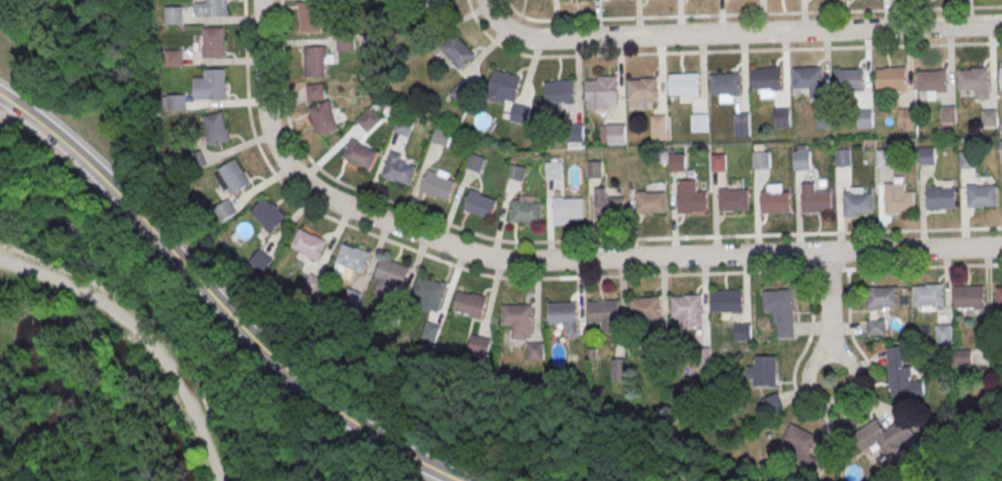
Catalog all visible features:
building: (440, 7)
building: (219, 9)
road: (750, 13)
building: (175, 17)
building: (312, 19)
road: (734, 33)
building: (215, 45)
road: (721, 50)
building: (458, 54)
building: (176, 60)
building: (315, 63)
building: (1000, 75)
building: (765, 77)
building: (807, 77)
building: (890, 77)
building: (973, 78)
building: (849, 79)
building: (931, 80)
building: (683, 83)
building: (724, 83)
building: (212, 88)
building: (640, 88)
building: (503, 89)
building: (316, 91)
building: (559, 91)
building: (601, 91)
building: (463, 95)
building: (178, 105)
building: (323, 116)
building: (520, 116)
building: (948, 116)
building: (782, 119)
building: (906, 119)
road: (11, 120)
building: (369, 120)
building: (824, 120)
building: (865, 120)
building: (990, 120)
road: (251, 124)
building: (699, 125)
building: (742, 125)
building: (402, 126)
building: (215, 127)
building: (659, 129)
building: (617, 135)
building: (441, 136)
building: (575, 136)
building: (1001, 151)
building: (359, 153)
building: (928, 158)
building: (842, 159)
building: (885, 160)
building: (967, 161)
building: (761, 162)
building: (802, 162)
building: (476, 164)
building: (677, 165)
building: (719, 165)
building: (594, 171)
building: (400, 172)
building: (517, 172)
building: (553, 172)
building: (232, 176)
building: (438, 187)
building: (982, 194)
building: (690, 197)
building: (940, 197)
building: (733, 198)
building: (815, 198)
building: (899, 200)
building: (650, 201)
building: (774, 201)
building: (857, 202)
building: (480, 207)
building: (226, 209)
building: (568, 210)
building: (610, 210)
building: (268, 213)
building: (527, 214)
road: (564, 240)
building: (307, 242)
building: (261, 260)
building: (353, 260)
road: (548, 260)
building: (393, 275)
road: (659, 275)
building: (315, 287)
building: (431, 293)
building: (928, 298)
building: (970, 299)
building: (999, 299)
building: (883, 300)
building: (353, 301)
road: (216, 302)
building: (778, 302)
park: (229, 303)
building: (728, 303)
building: (471, 307)
building: (687, 309)
building: (646, 310)
building: (605, 314)
building: (563, 315)
road: (830, 315)
building: (393, 317)
building: (519, 322)
river: (65, 328)
building: (877, 329)
road: (160, 330)
building: (430, 334)
building: (944, 337)
road: (142, 338)
road: (211, 348)
building: (479, 348)
building: (535, 353)
building: (660, 358)
building: (703, 361)
building: (619, 372)
building: (764, 373)
building: (901, 377)
building: (773, 406)
road: (833, 419)
park: (88, 420)
building: (882, 435)
building: (801, 449)
park: (961, 455)

